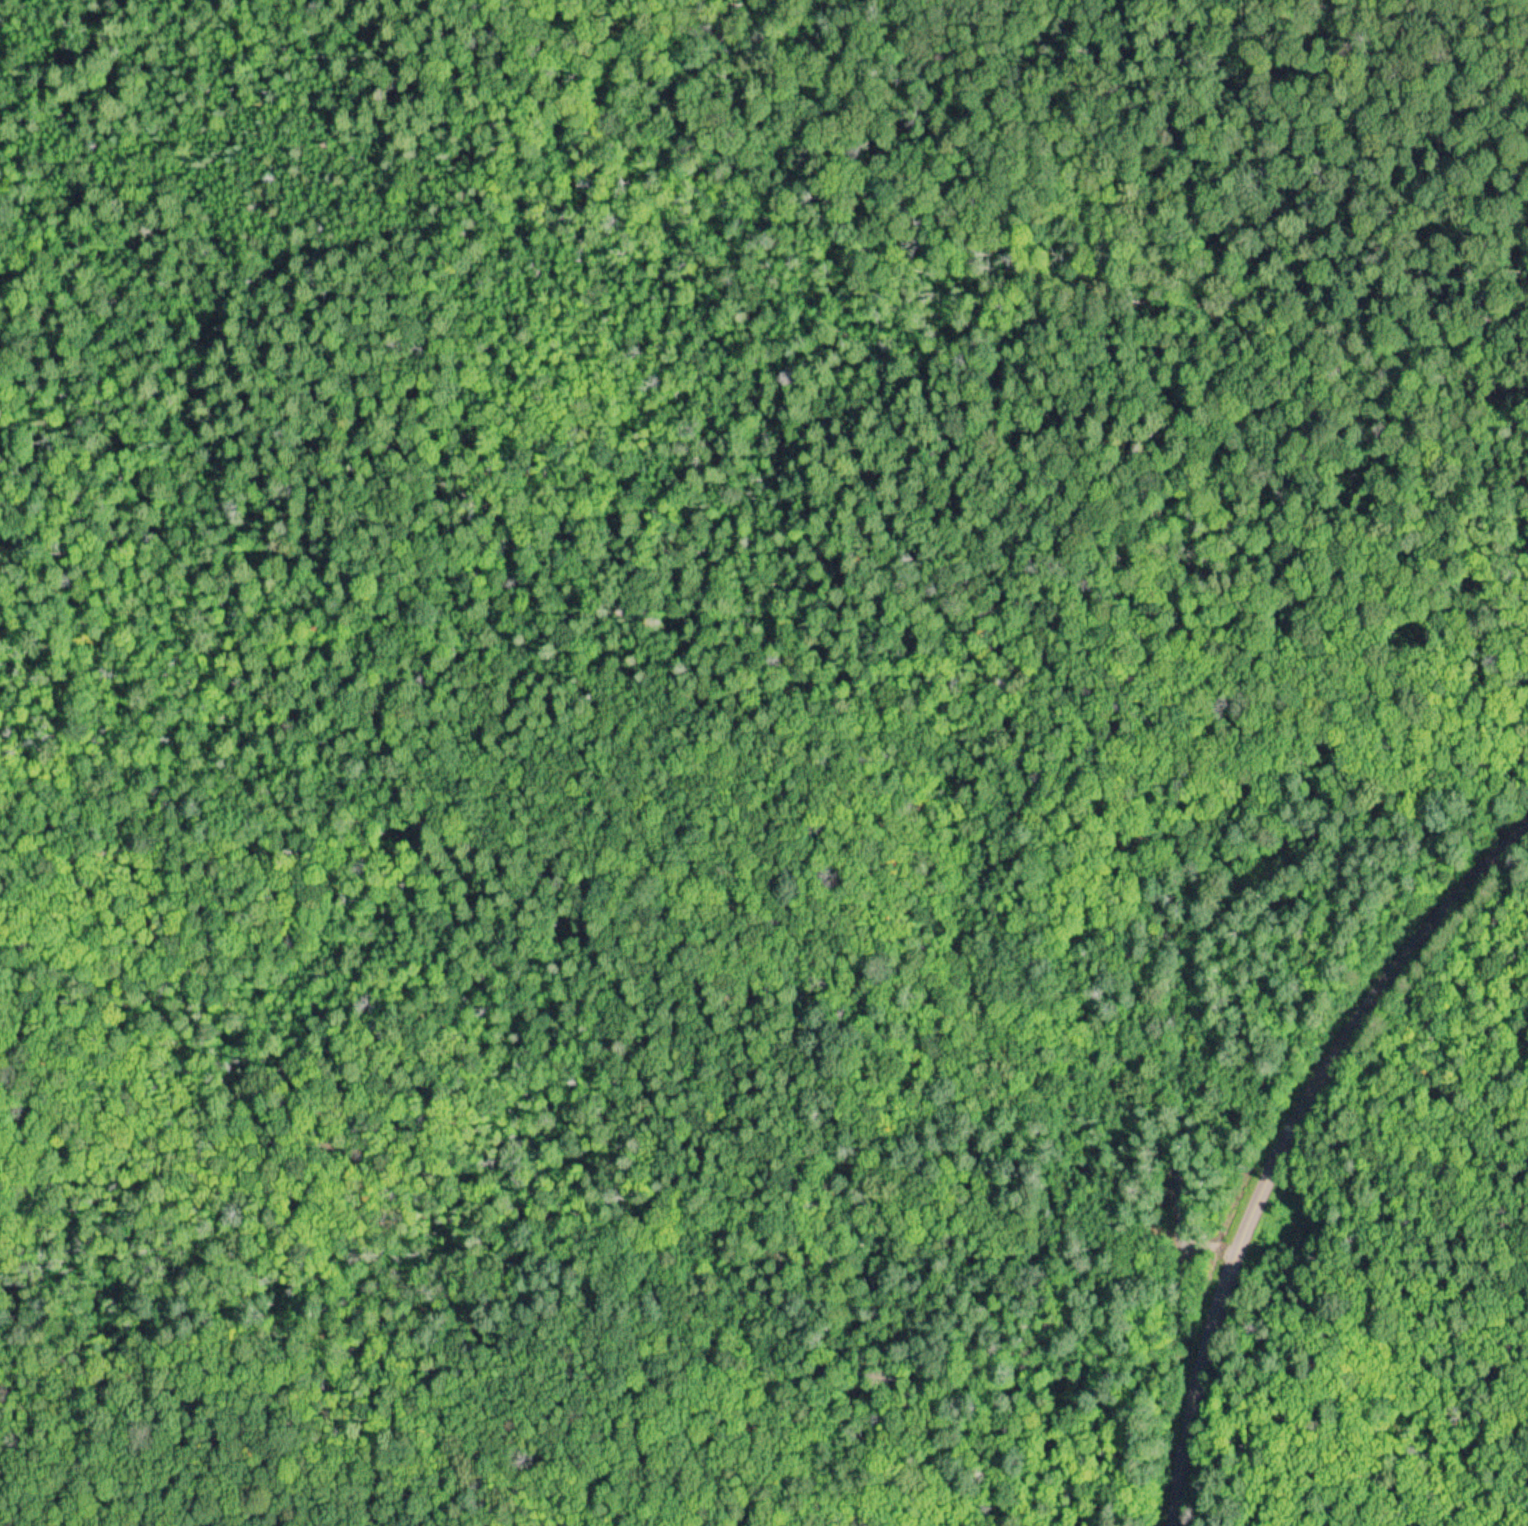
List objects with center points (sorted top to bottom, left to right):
road: (1200, 991)
road: (1347, 1033)
road: (1440, 1063)
road: (1189, 1396)

